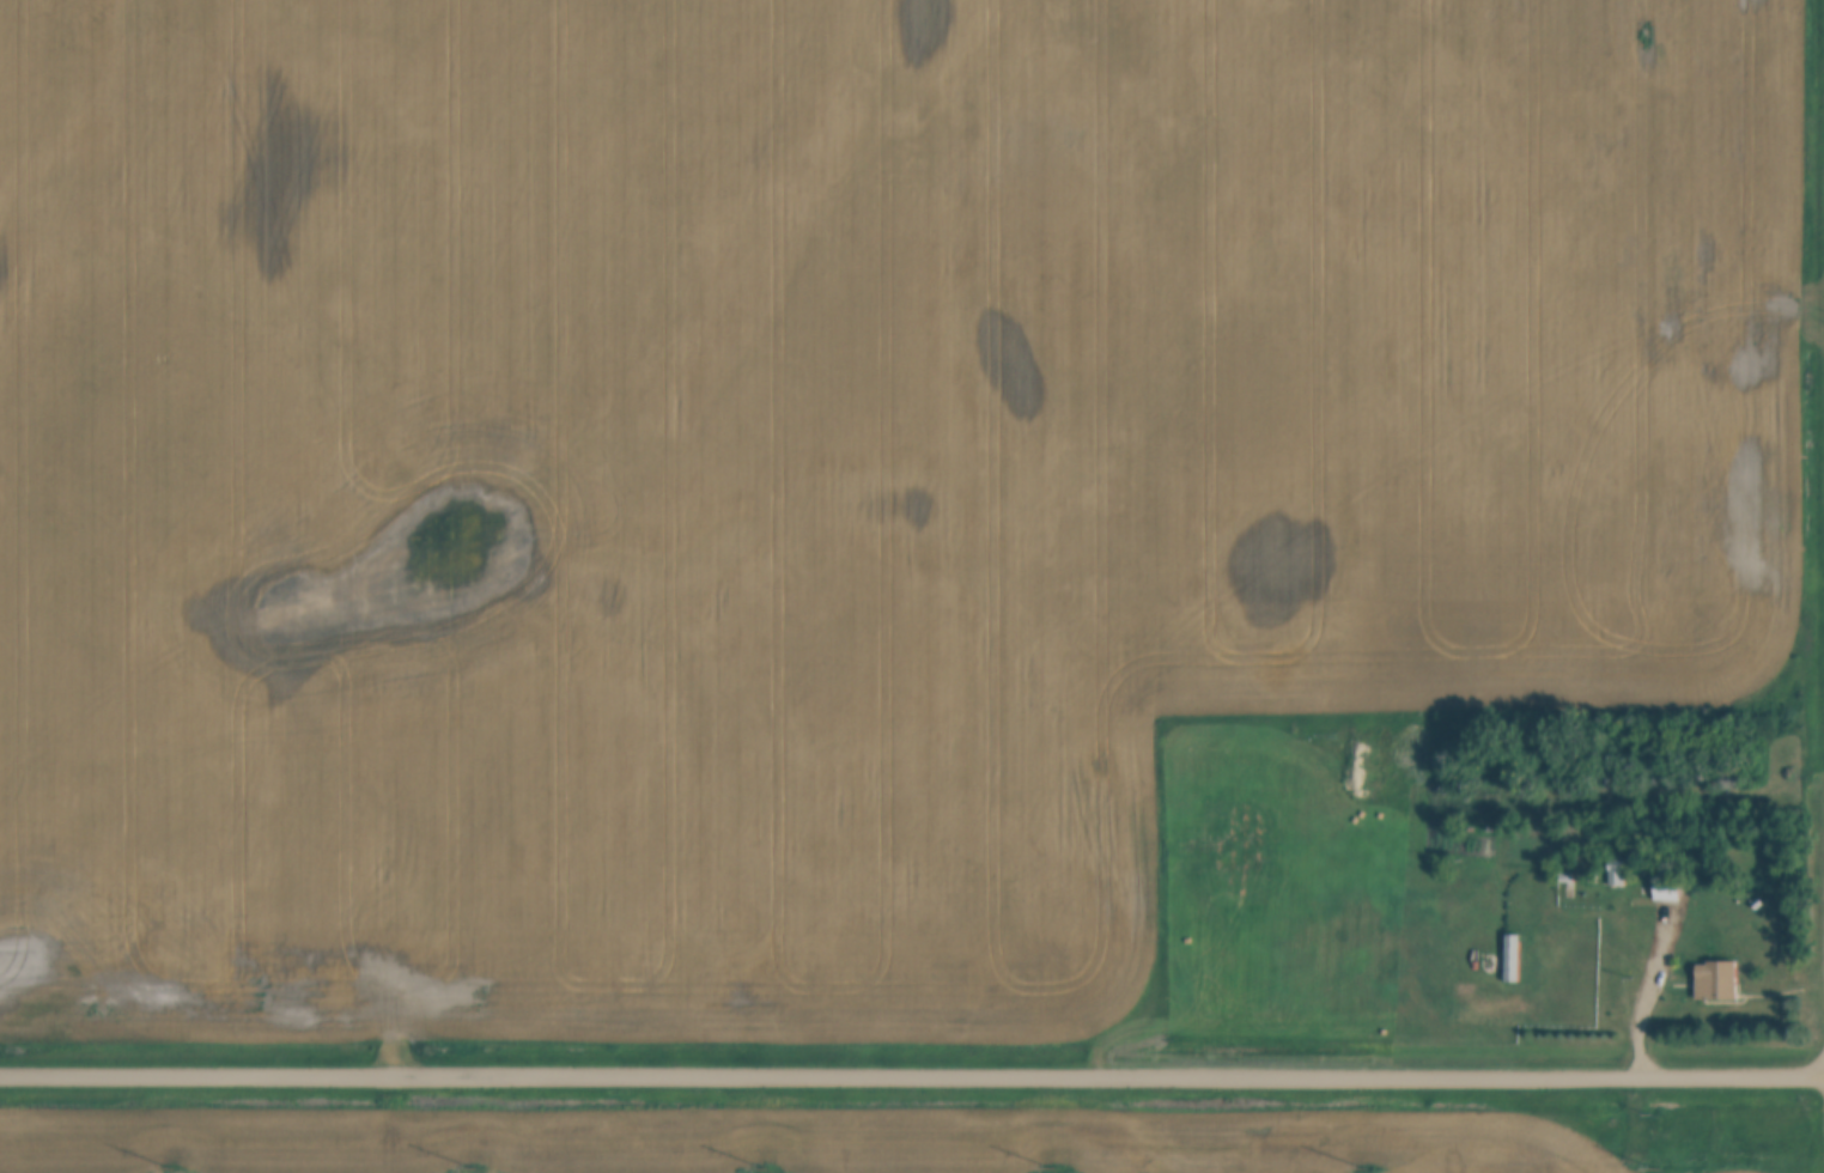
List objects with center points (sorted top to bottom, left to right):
building: (1665, 892)
building: (1512, 959)
road: (1610, 971)
building: (1715, 981)
road: (912, 1077)

